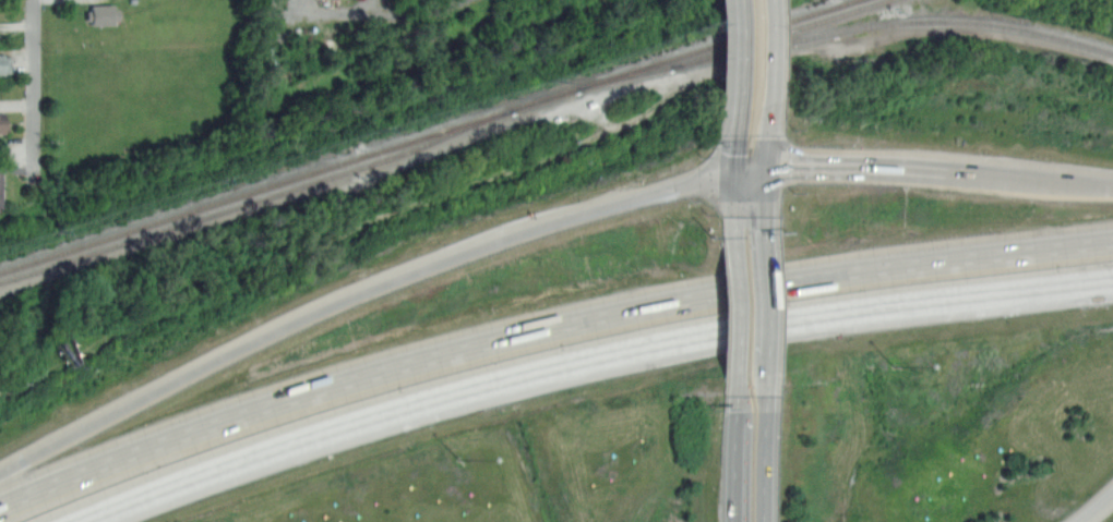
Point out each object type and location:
building: (103, 12)
railway: (804, 15)
railway: (891, 22)
railway: (777, 33)
road: (765, 50)
road: (735, 56)
railway: (666, 59)
building: (4, 63)
railway: (624, 76)
road: (34, 96)
railway: (544, 97)
building: (3, 122)
road: (766, 134)
road: (735, 142)
traffic signals: (735, 155)
traffic signals: (793, 167)
road: (855, 168)
road: (751, 170)
road: (1010, 180)
road: (1093, 186)
building: (0, 189)
railway: (255, 189)
road: (766, 196)
railway: (256, 197)
road: (738, 206)
traffic signals: (766, 230)
road: (765, 288)
road: (740, 290)
road: (357, 295)
road: (739, 307)
road: (764, 325)
road: (765, 362)
street lamp: (894, 365)
road: (738, 402)
road: (184, 434)
road: (764, 447)
street lamp: (457, 456)
road: (248, 457)
road: (735, 475)
road: (1094, 506)

